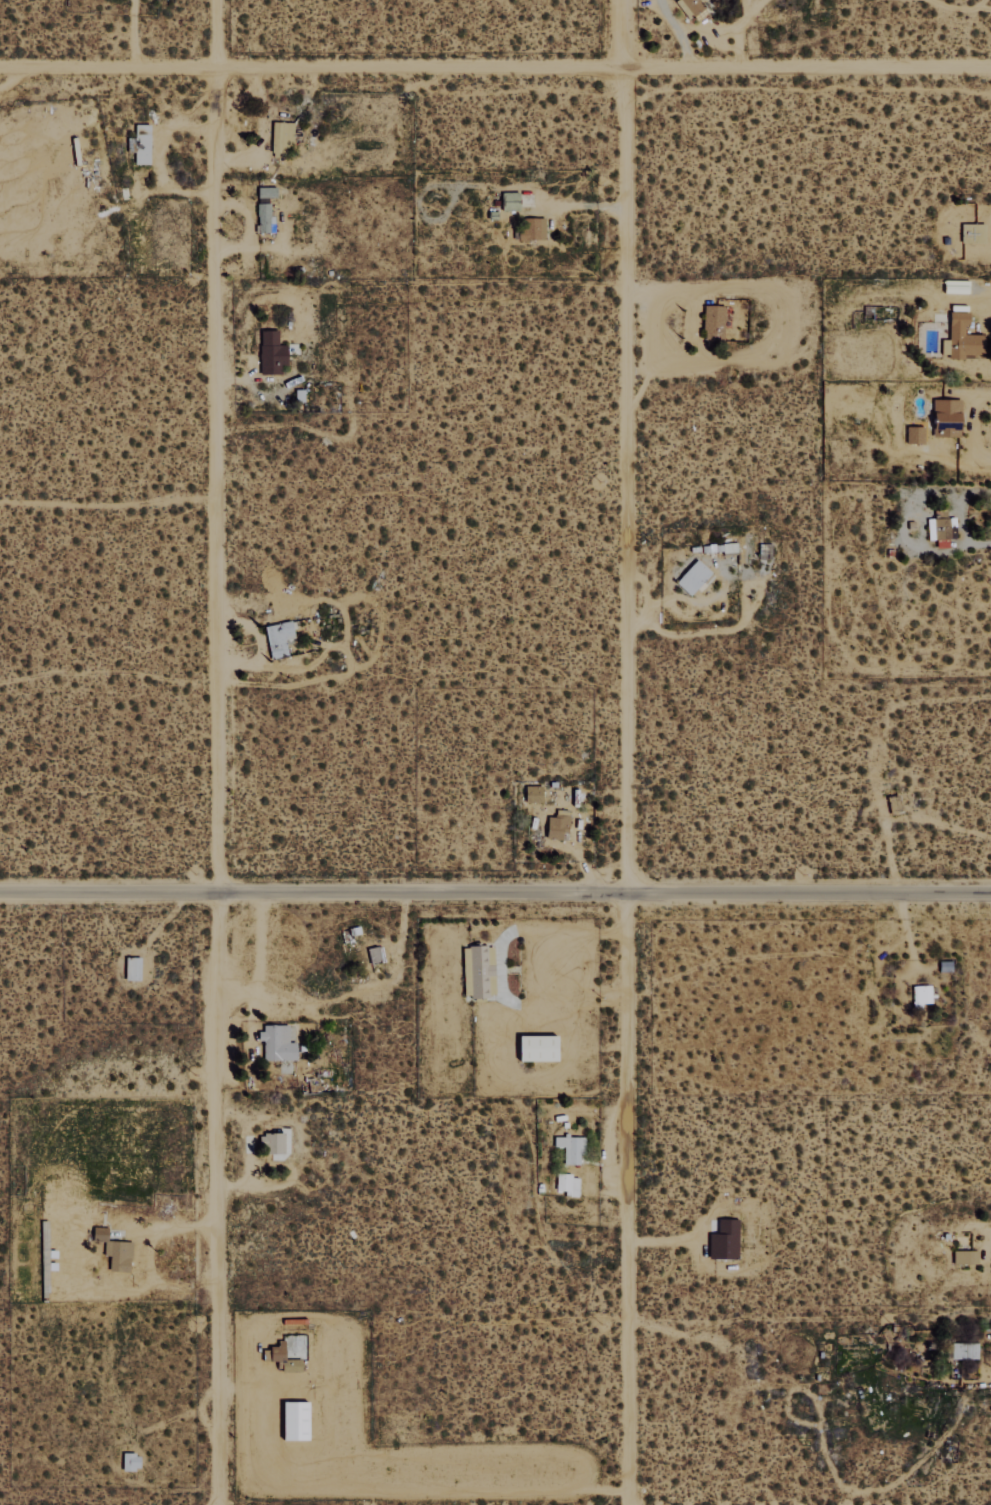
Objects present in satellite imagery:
building: (690, 7)
road: (495, 67)
building: (139, 143)
building: (264, 191)
building: (508, 200)
building: (262, 217)
building: (530, 227)
building: (712, 322)
building: (961, 337)
building: (270, 353)
building: (944, 417)
building: (913, 434)
road: (216, 446)
road: (617, 446)
building: (940, 527)
building: (691, 577)
building: (276, 638)
building: (531, 794)
building: (554, 826)
road: (495, 893)
building: (129, 968)
building: (476, 971)
building: (920, 994)
building: (275, 1044)
building: (533, 1048)
building: (272, 1143)
building: (569, 1149)
building: (565, 1184)
road: (218, 1199)
road: (626, 1199)
building: (722, 1240)
building: (963, 1257)
building: (281, 1359)
building: (291, 1421)
building: (128, 1462)

